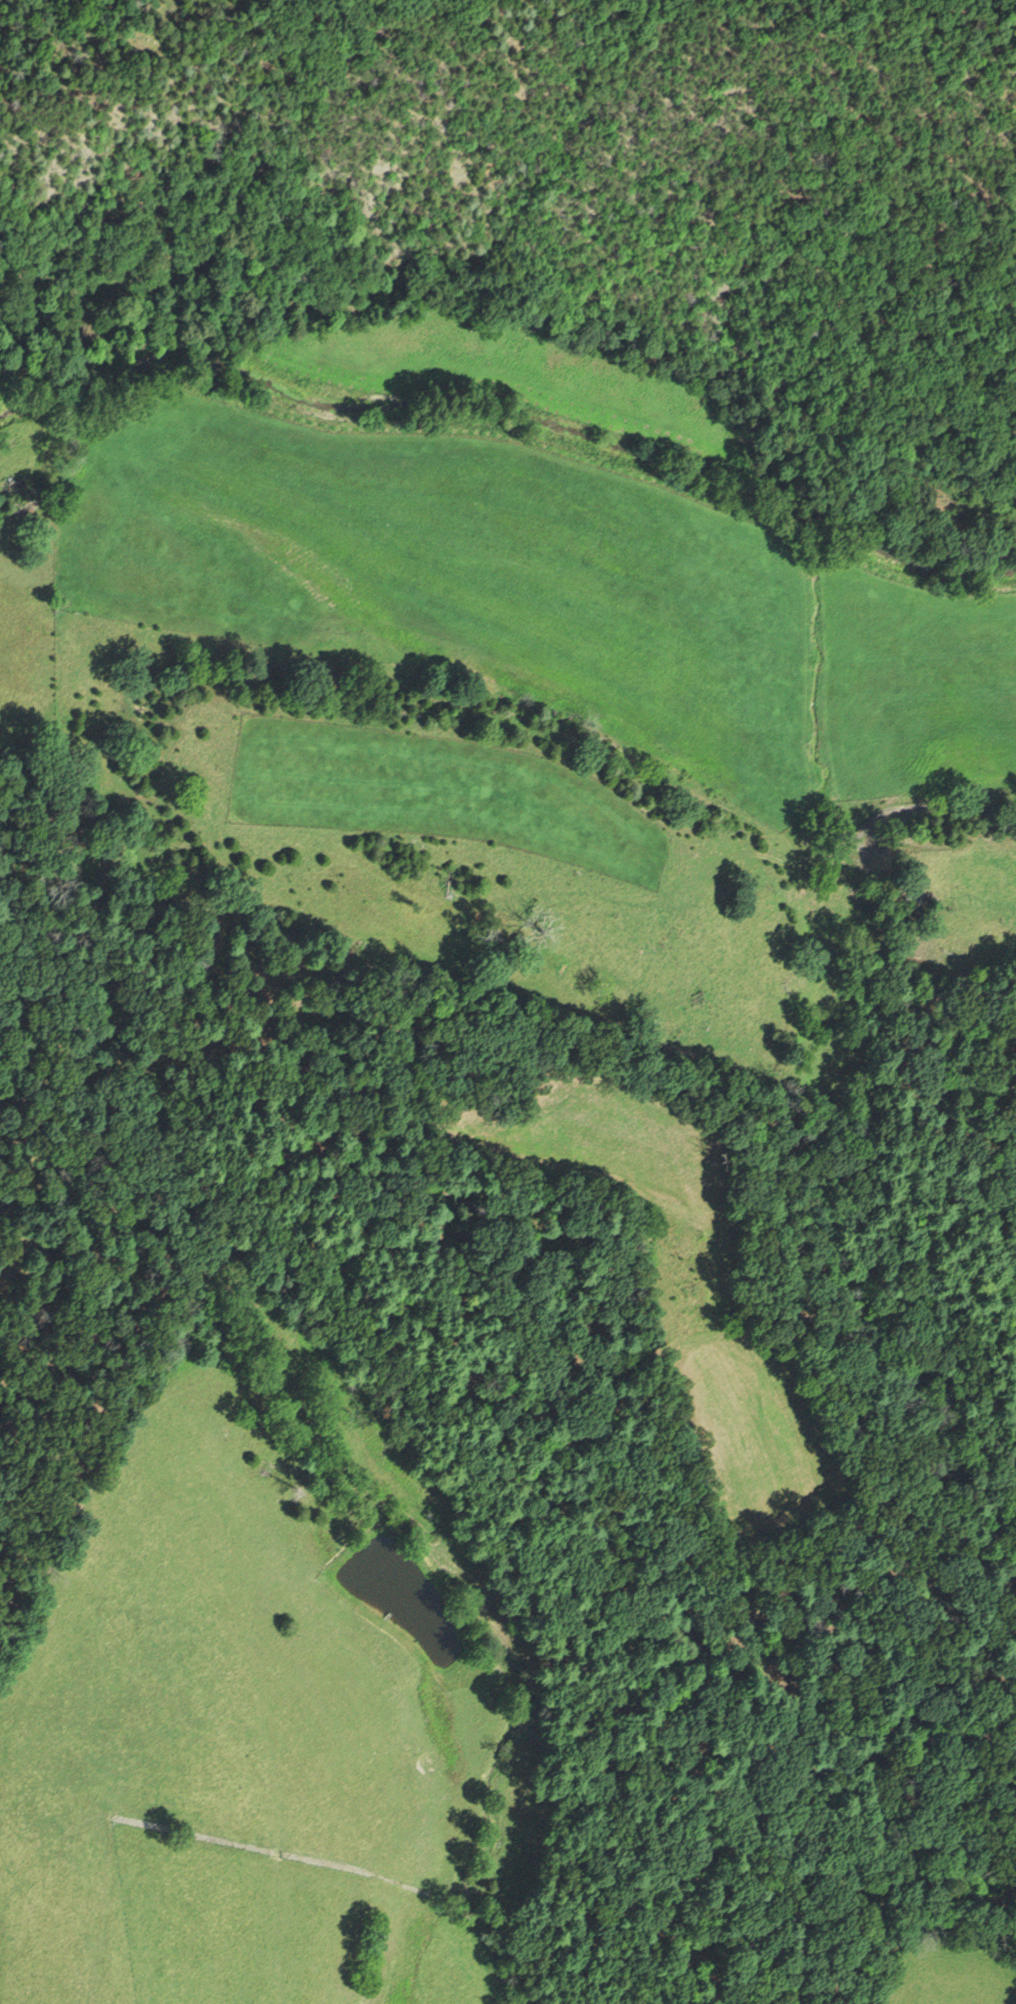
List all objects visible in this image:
road: (2, 538)
road: (908, 810)

